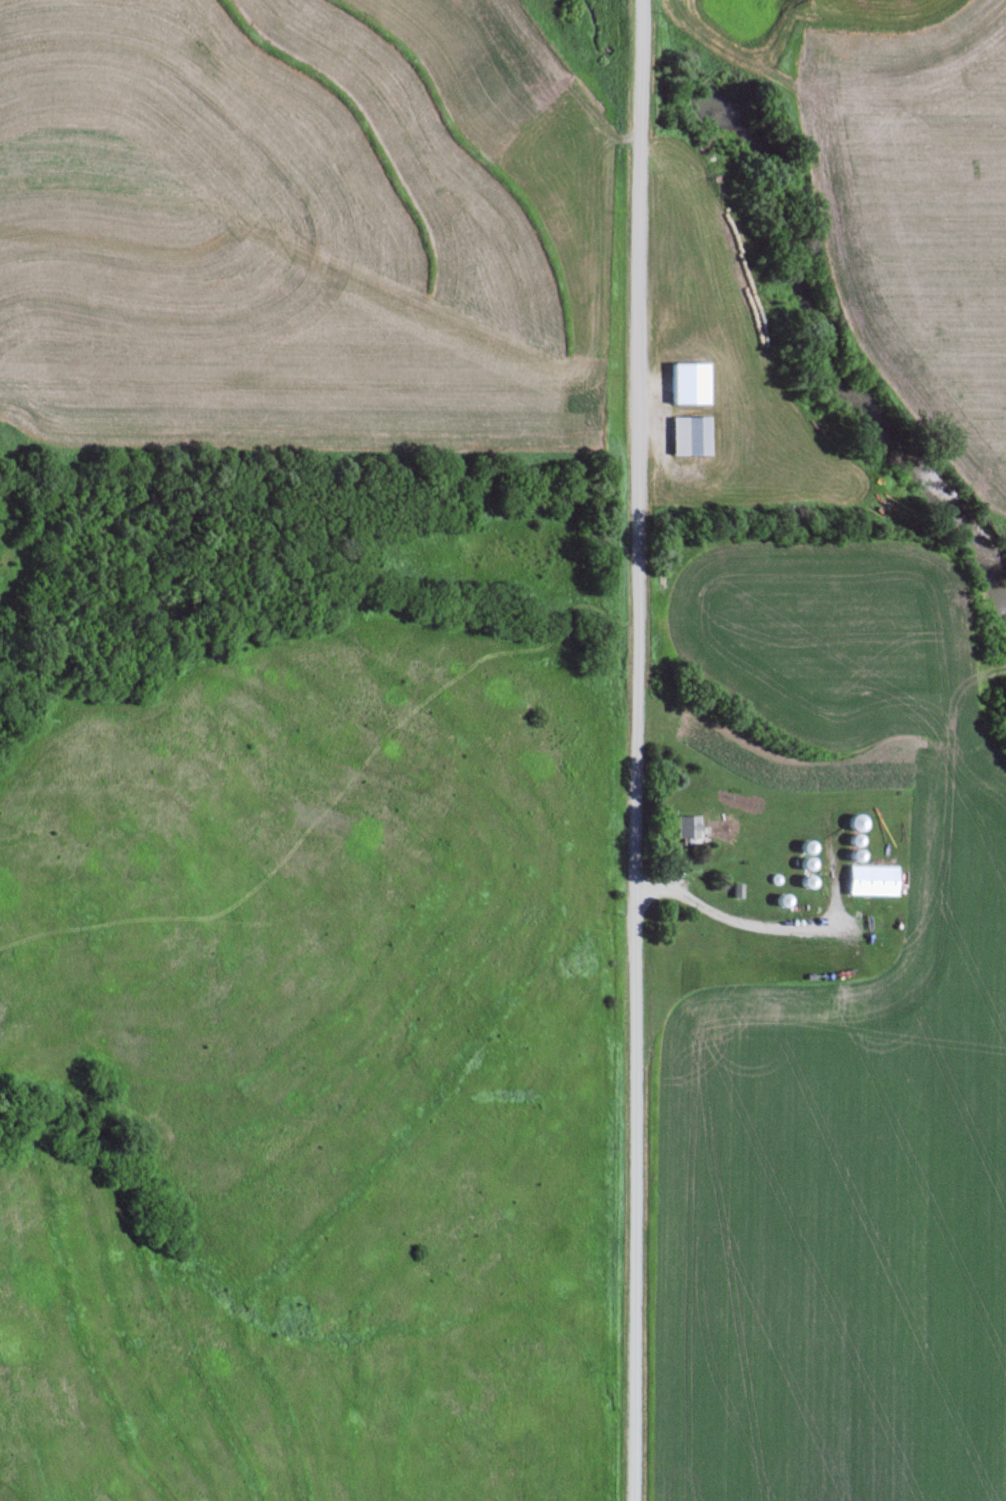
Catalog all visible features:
building: (688, 434)
road: (637, 750)
building: (685, 825)
building: (870, 879)

